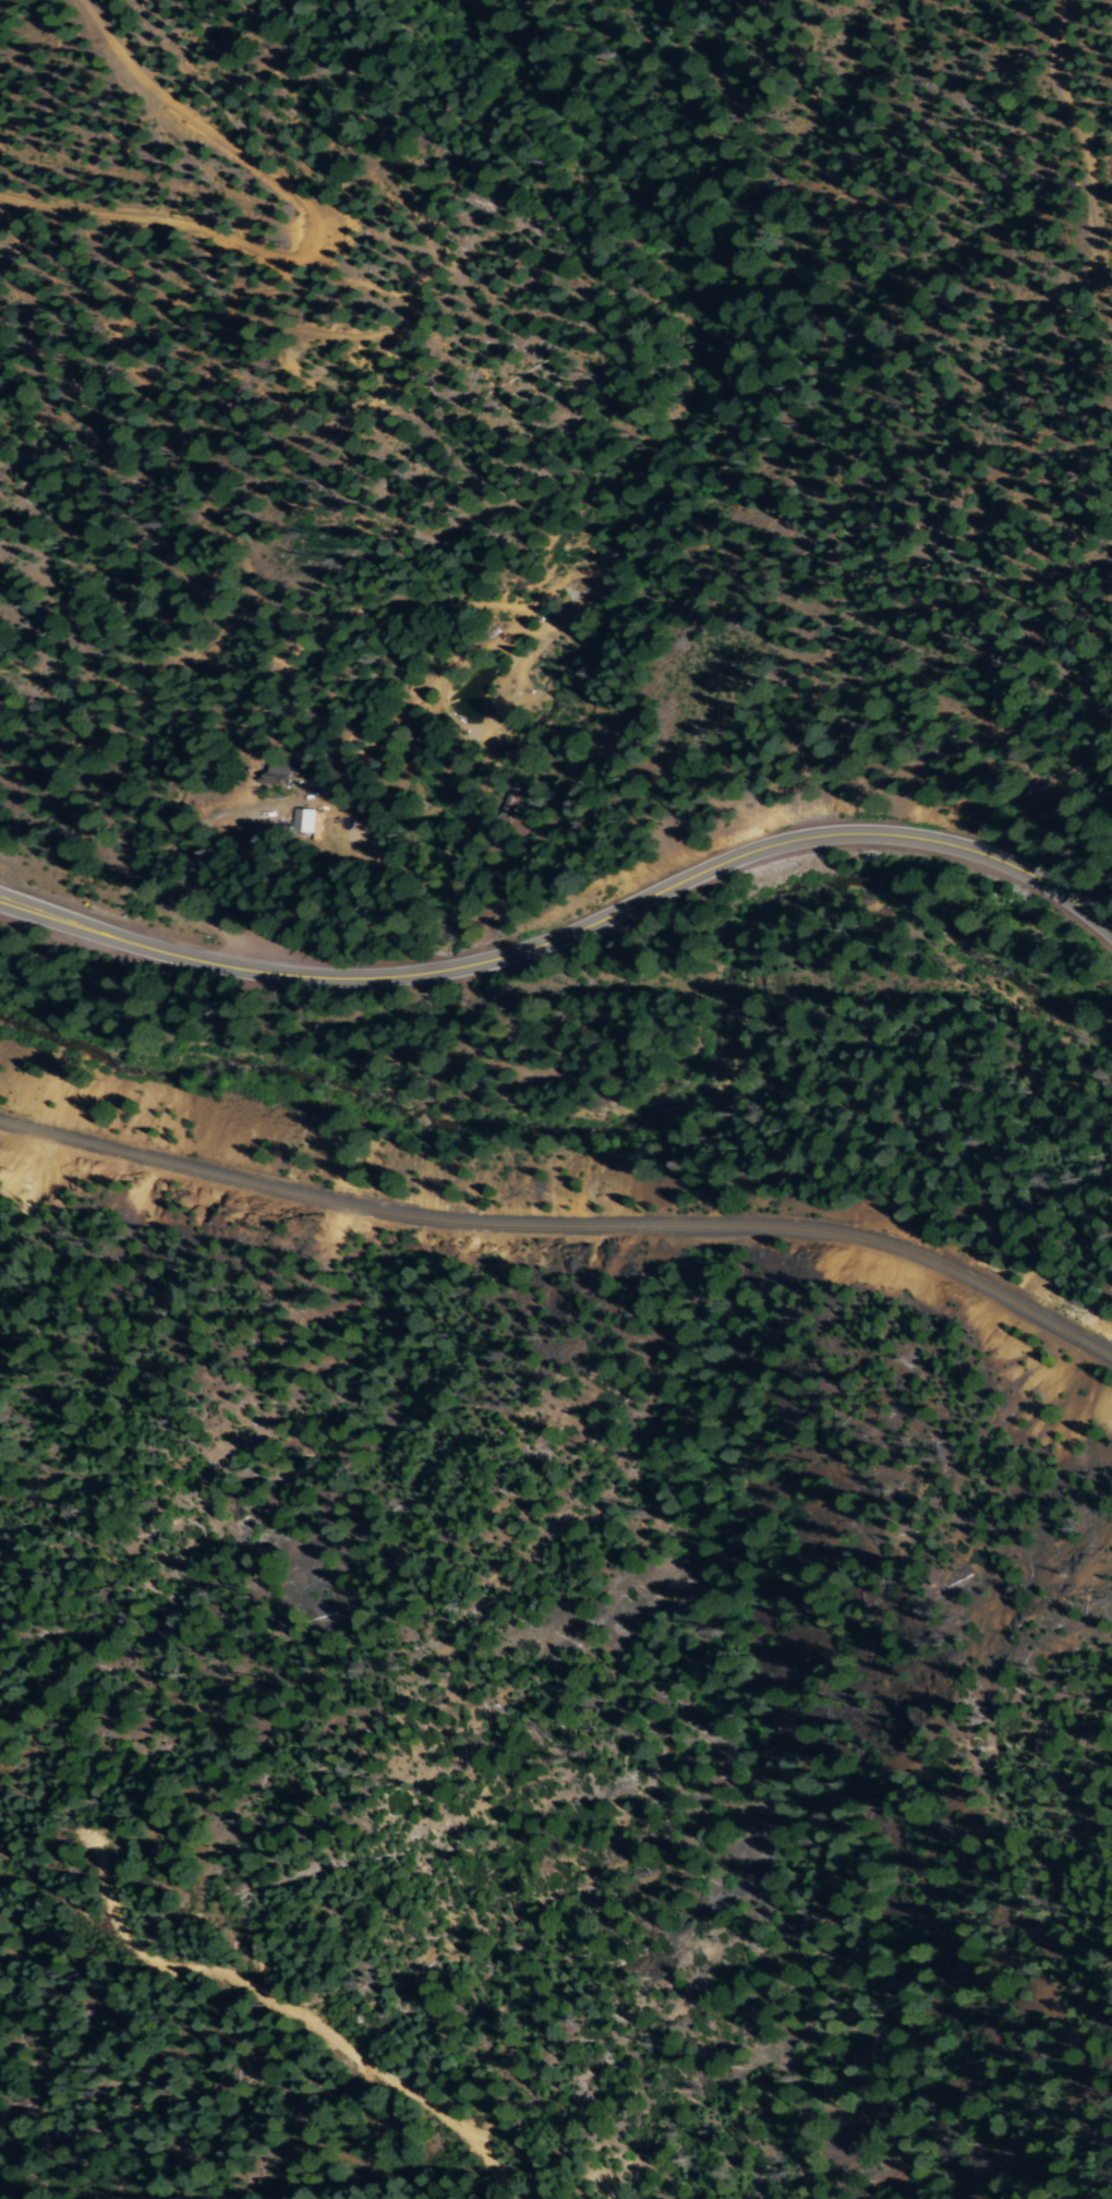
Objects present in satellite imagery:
road: (362, 771)
road: (528, 905)
road: (569, 940)
railway: (565, 1225)

